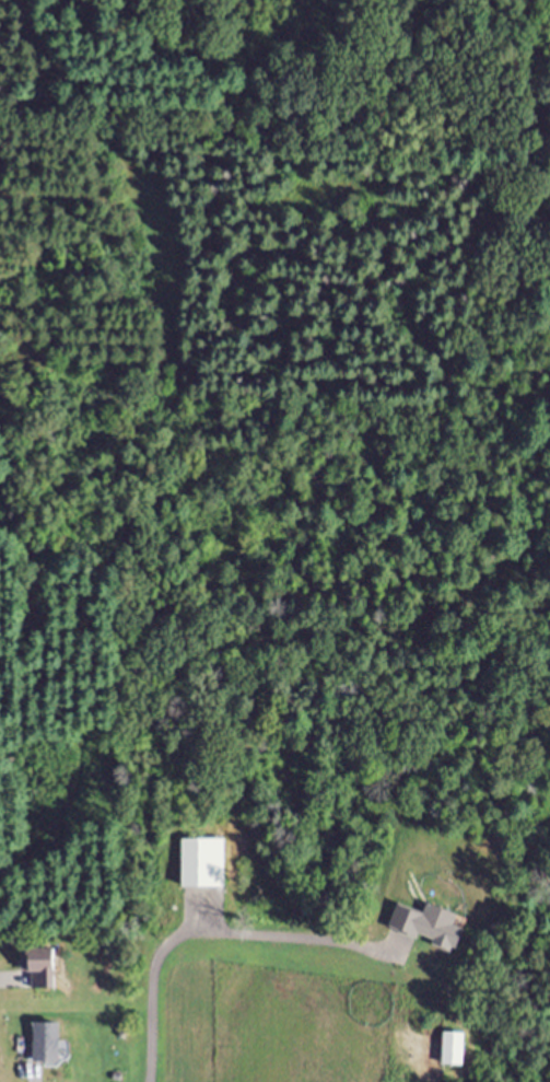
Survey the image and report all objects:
road: (194, 936)
road: (382, 951)
building: (52, 970)
crop: (312, 1001)
building: (54, 1044)

